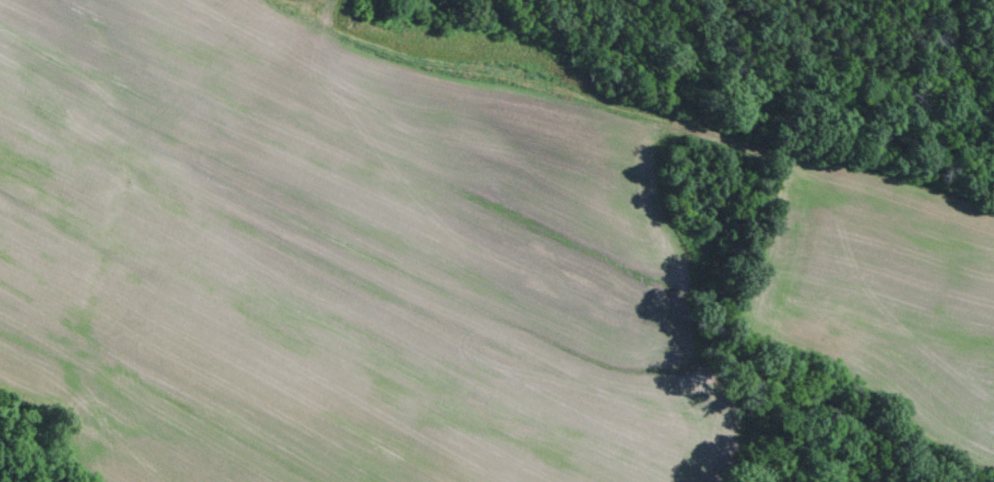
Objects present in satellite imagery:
road: (205, 254)

